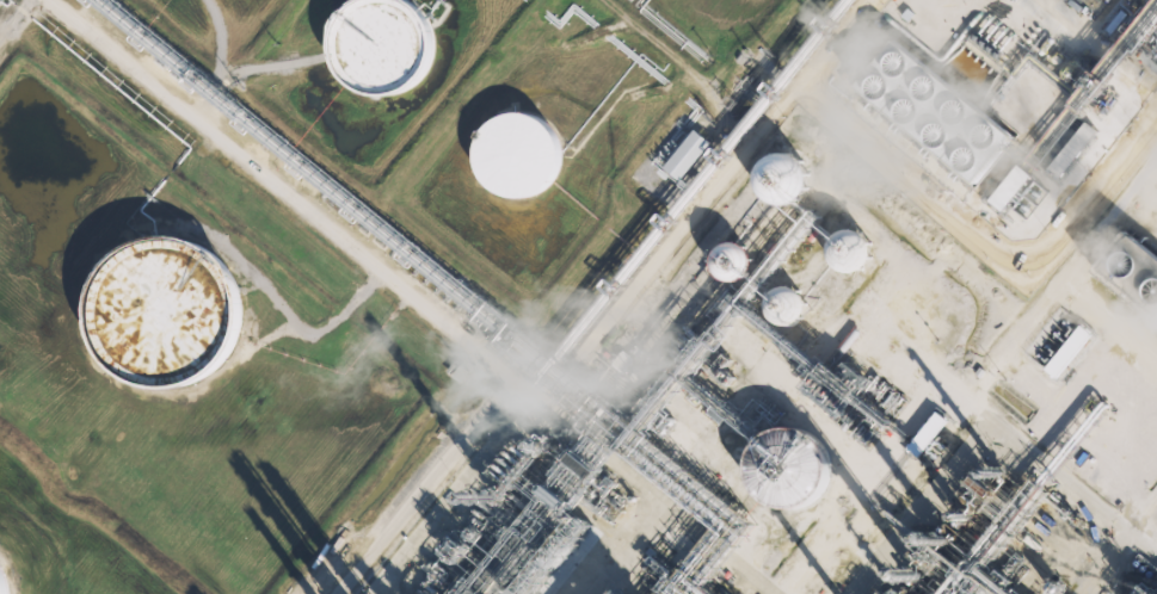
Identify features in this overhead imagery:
road: (1155, 1)
helipad: (949, 10)
building: (387, 45)
building: (1071, 153)
building: (688, 154)
building: (523, 155)
storage tank: (523, 155)
building: (783, 178)
building: (1010, 186)
building: (733, 259)
road: (623, 296)
road: (424, 297)
building: (787, 304)
building: (176, 315)
storage tank: (176, 315)
building: (1063, 348)
road: (989, 377)
building: (924, 427)
building: (774, 468)
building: (4, 581)
storage tank: (4, 581)
building: (531, 583)

